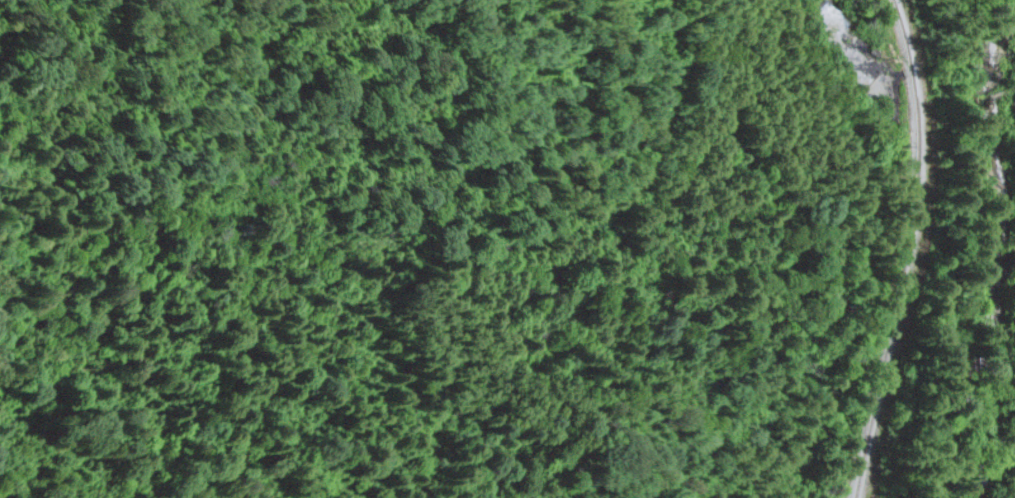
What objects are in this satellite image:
railway: (902, 248)

